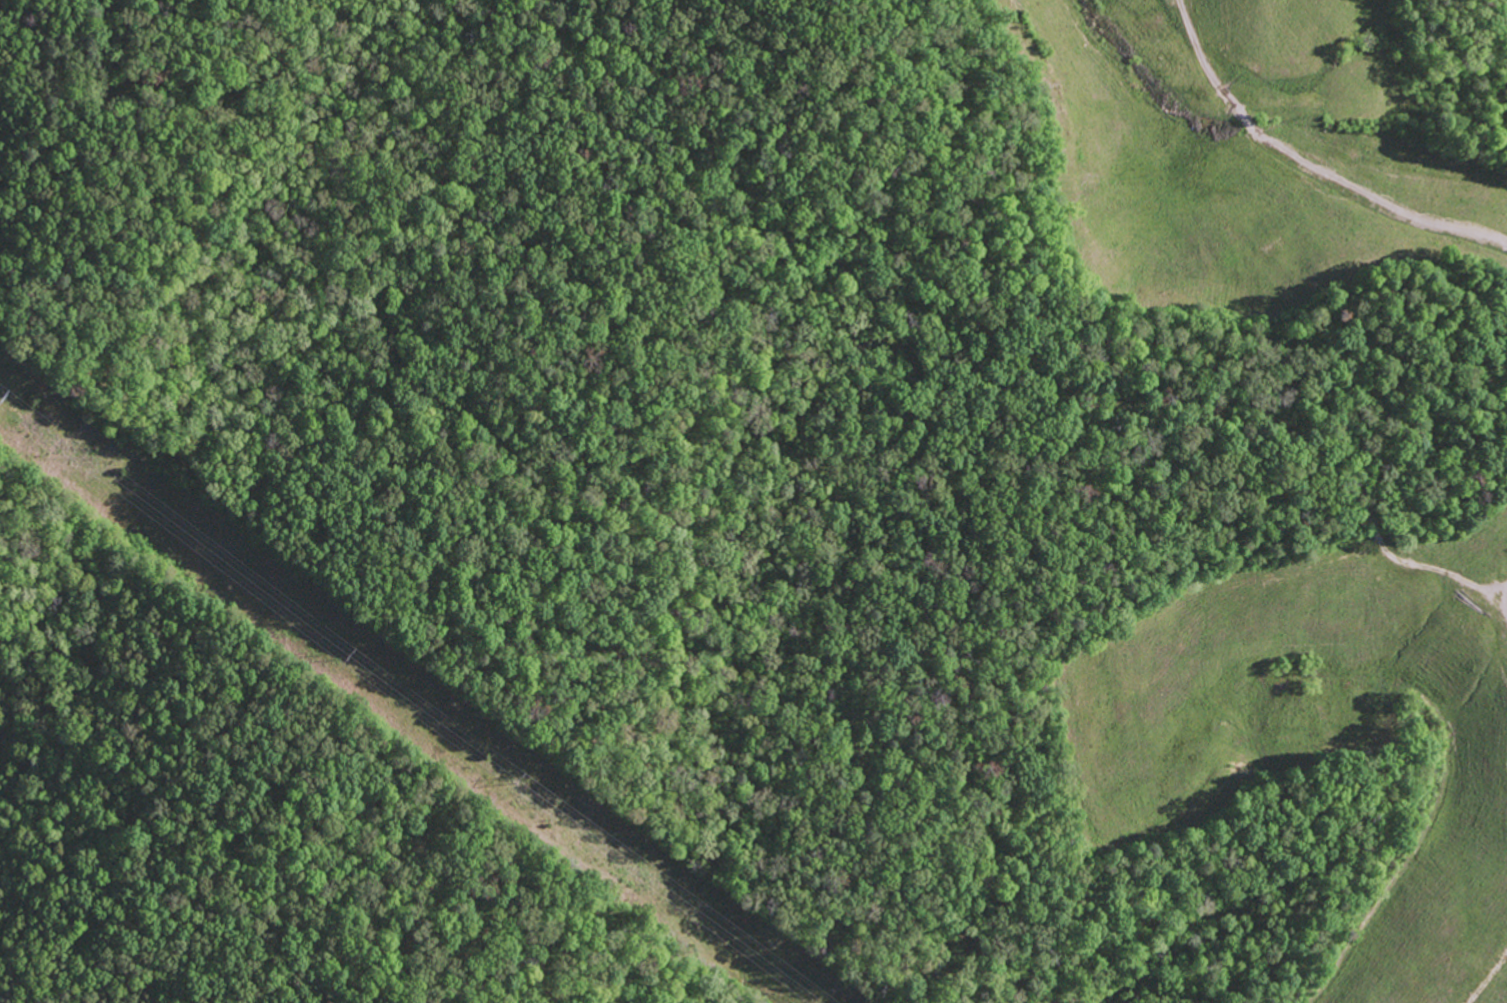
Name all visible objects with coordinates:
road: (1307, 165)
road: (1070, 356)
power tower: (7, 396)
power tower: (346, 651)
power tower: (516, 777)
road: (1487, 978)

